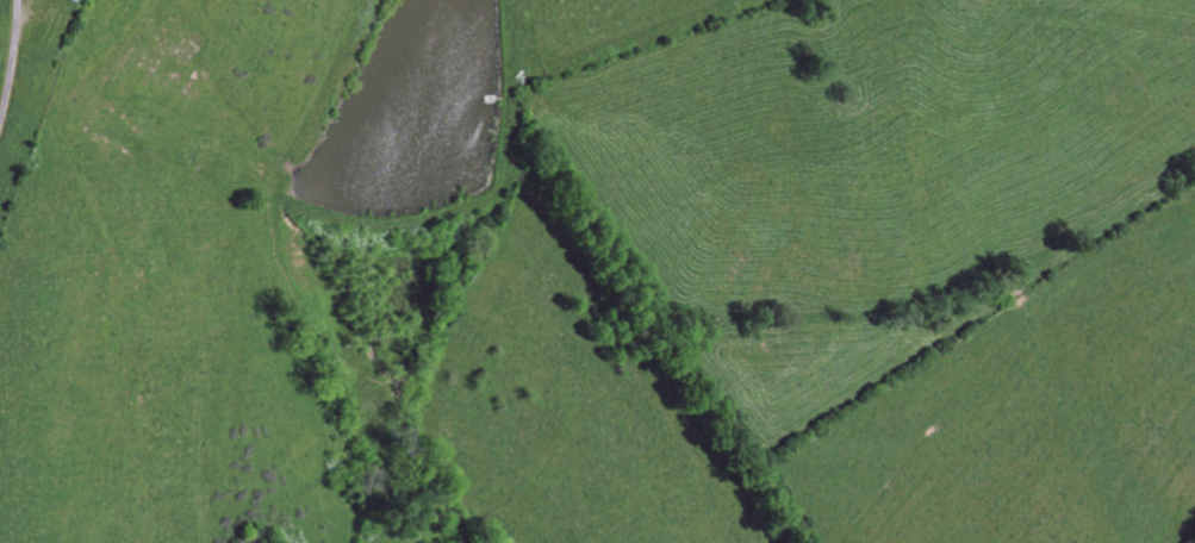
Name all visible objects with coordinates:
road: (8, 56)

